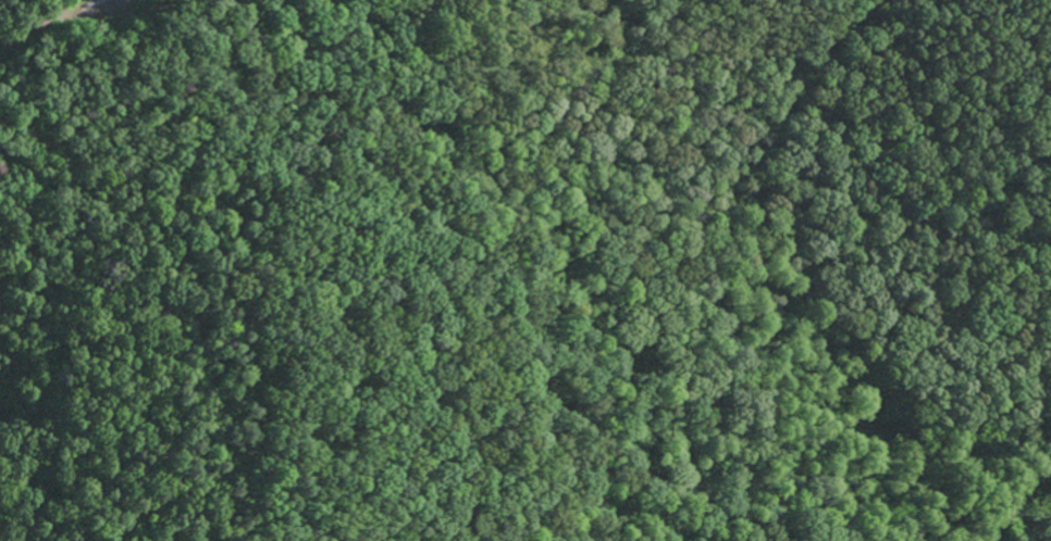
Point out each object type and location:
road: (75, 38)

